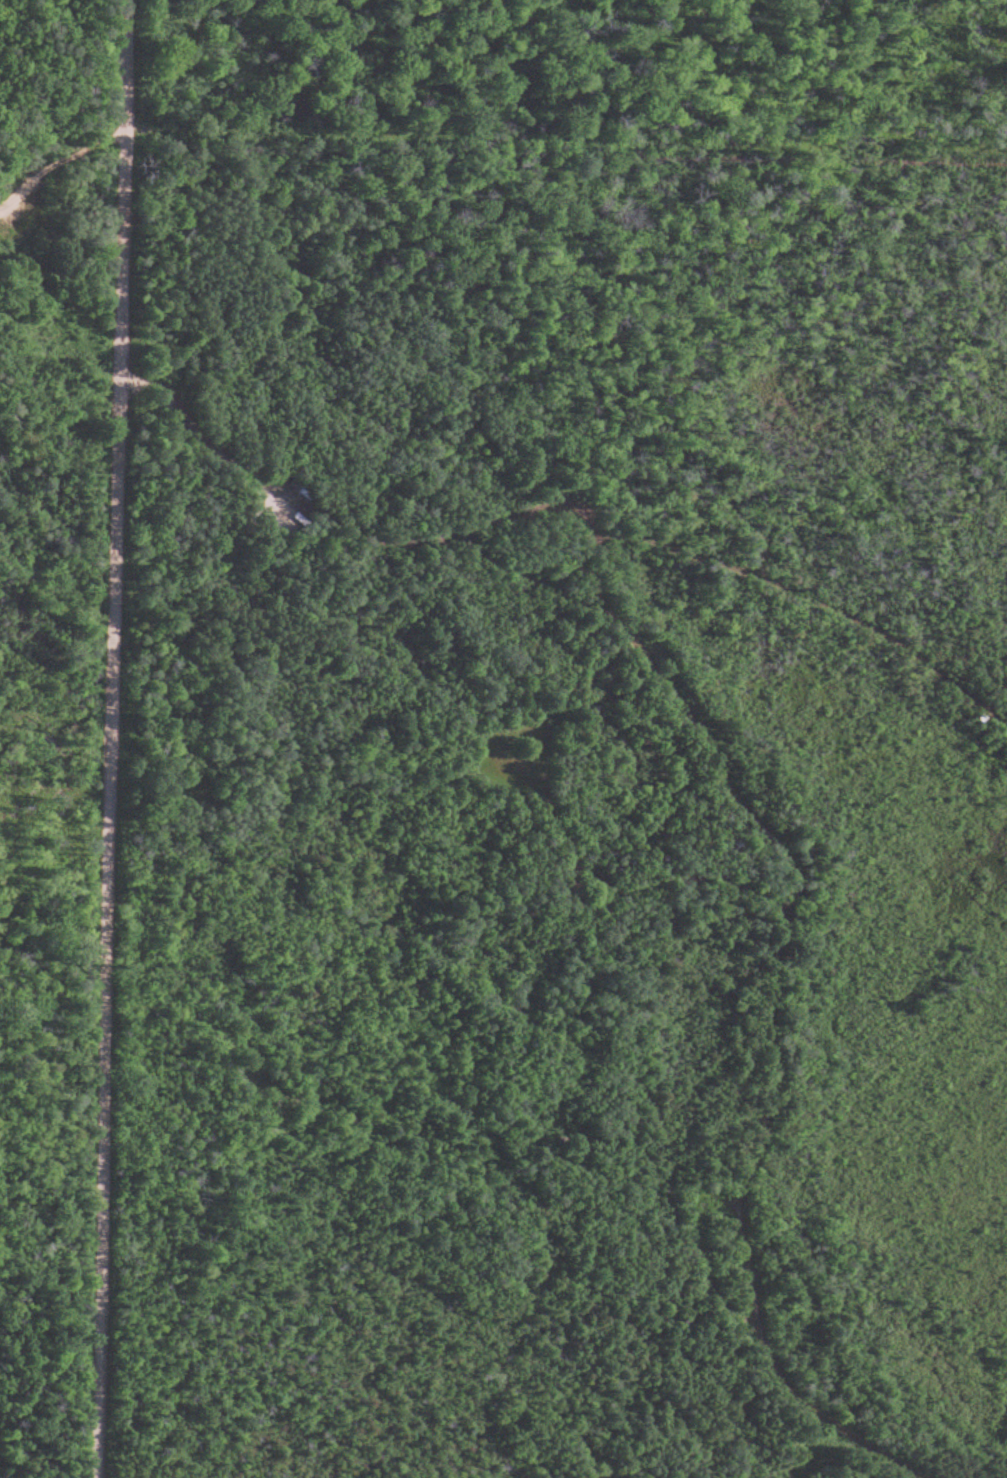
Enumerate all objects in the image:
road: (67, 130)
road: (124, 138)
road: (571, 141)
road: (118, 738)

